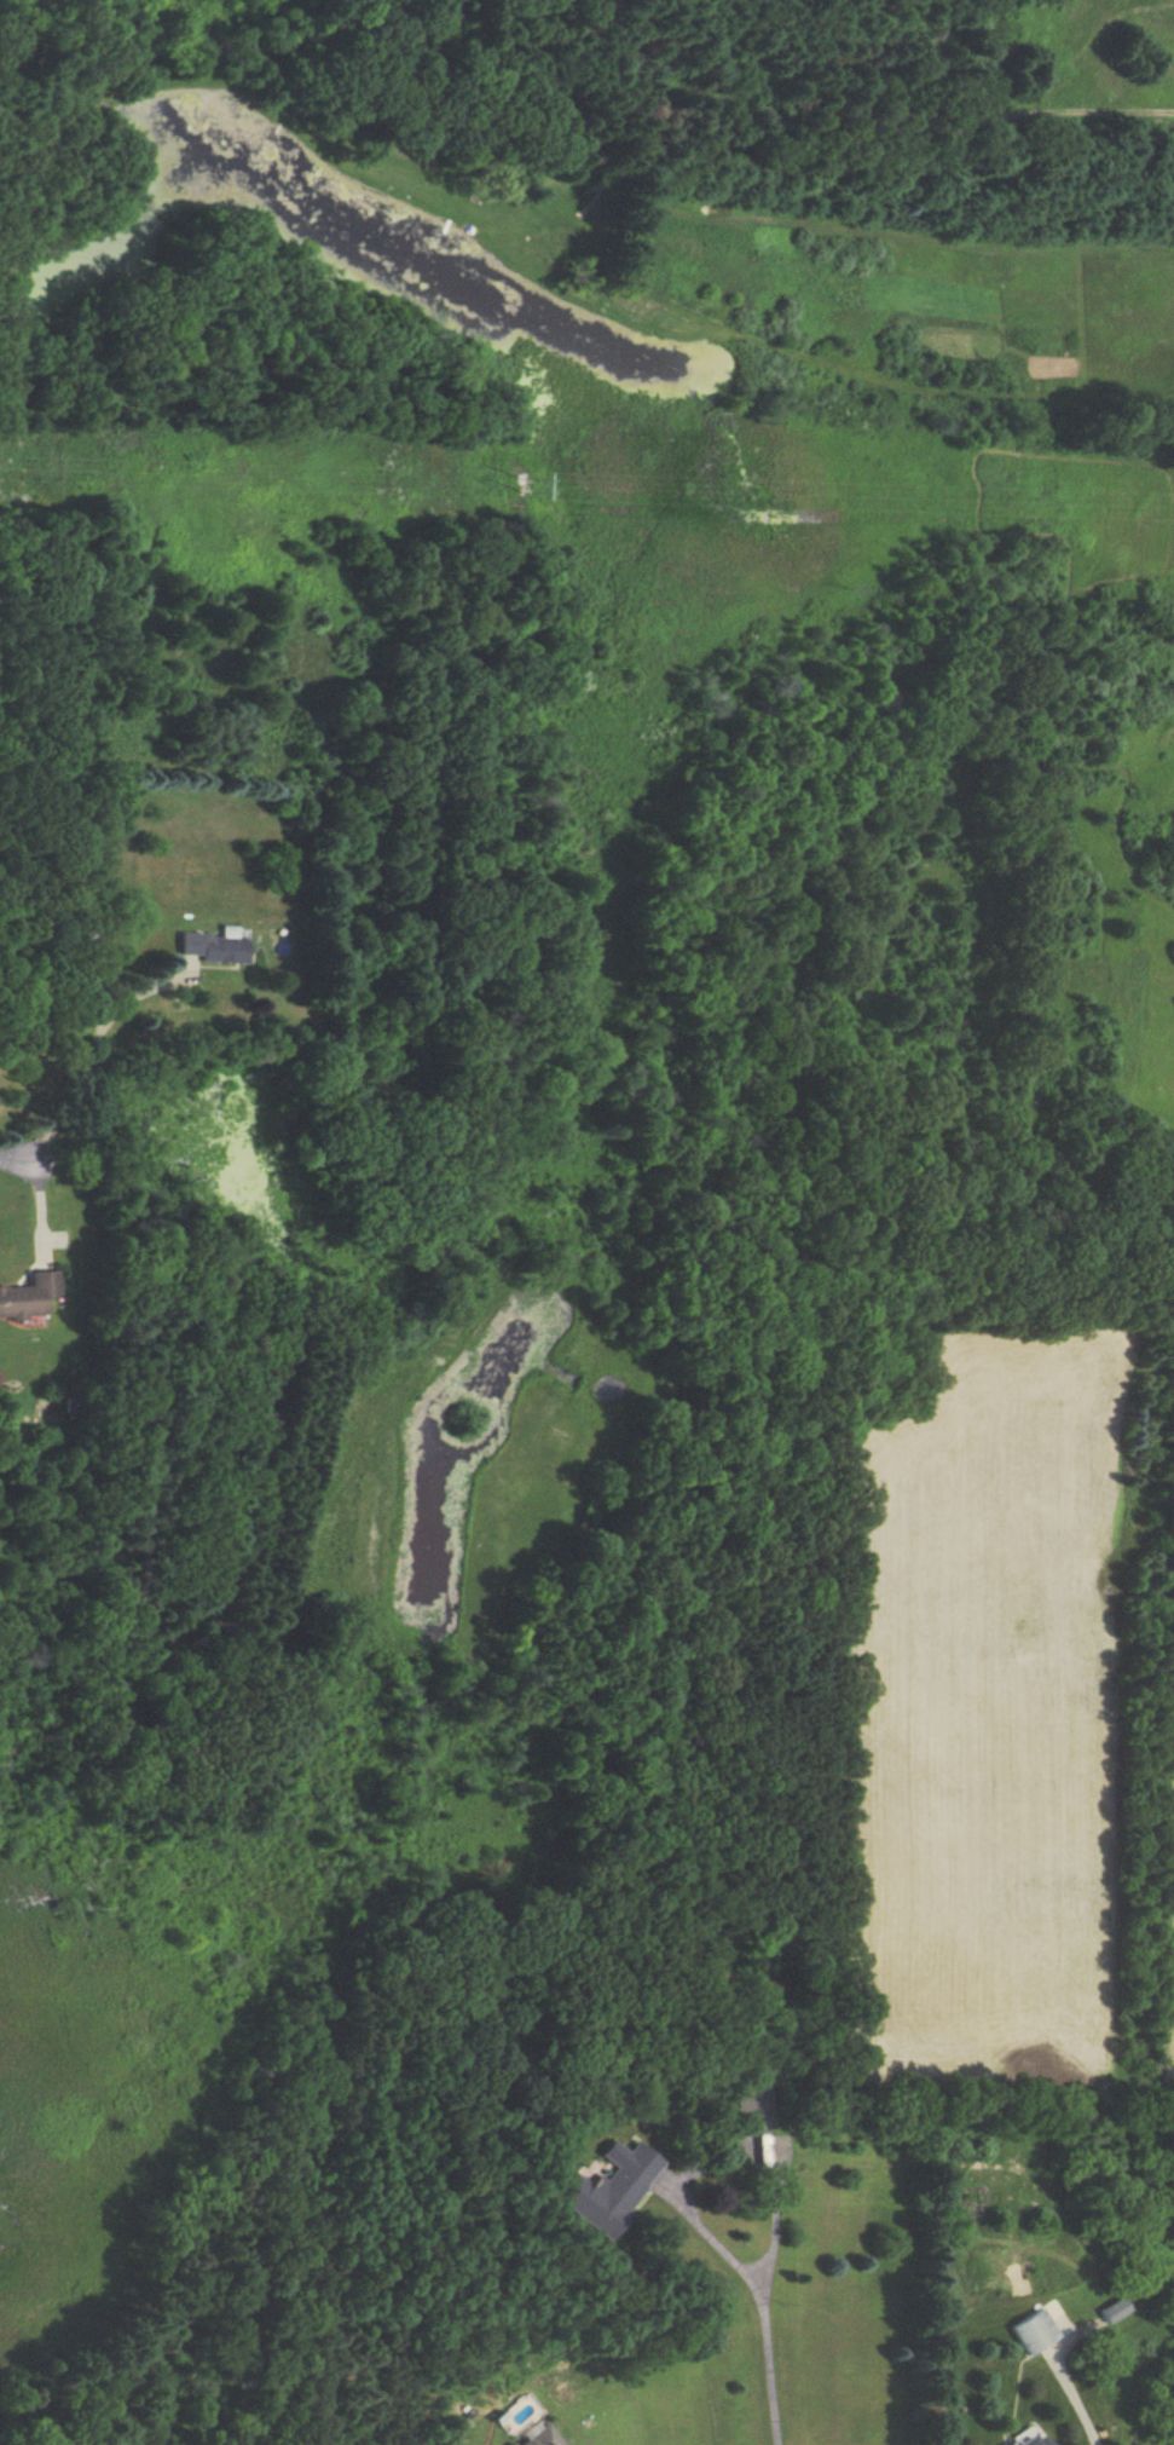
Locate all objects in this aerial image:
power tower: (528, 494)
building: (97, 945)
building: (218, 946)
road: (91, 1055)
road: (21, 1161)
building: (29, 1297)
building: (748, 2107)
building: (595, 2189)
road: (775, 2213)
road: (761, 2291)
building: (1115, 2311)
building: (1033, 2331)
building: (536, 2435)
building: (1034, 2440)

